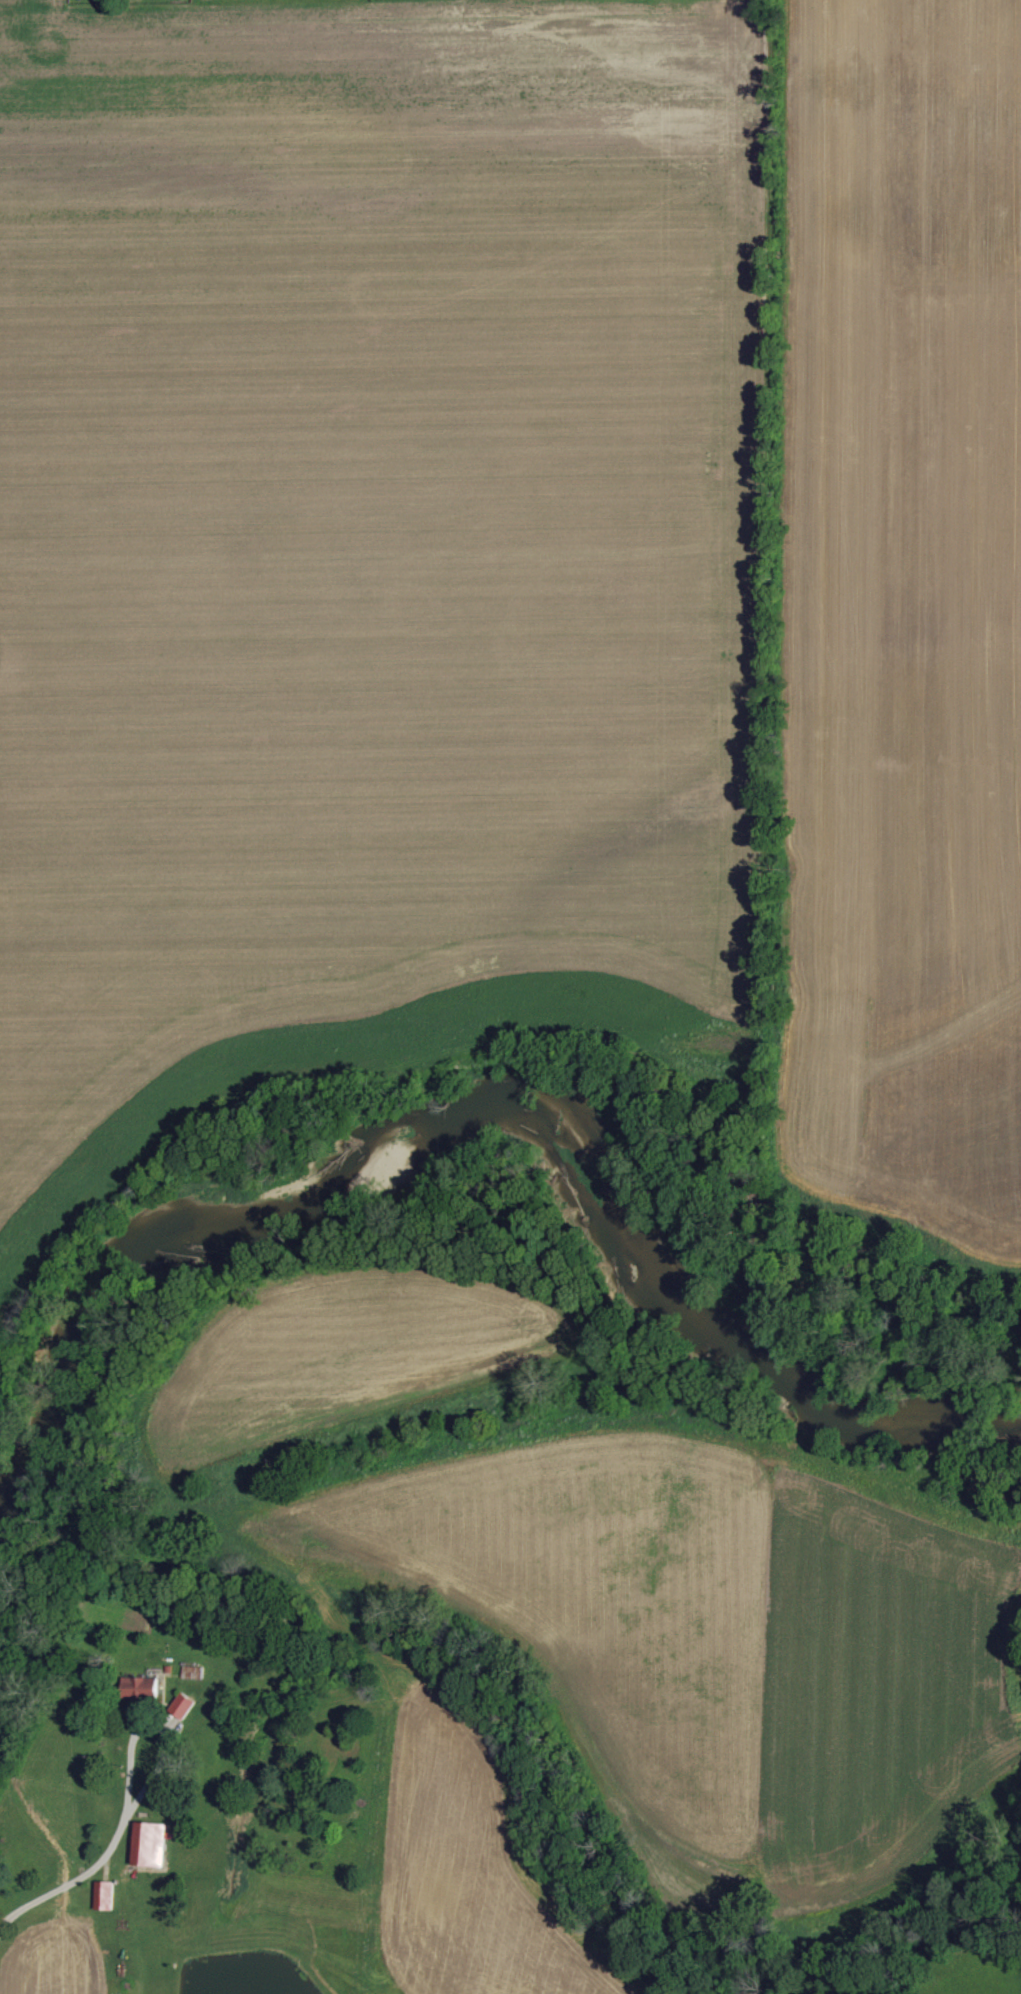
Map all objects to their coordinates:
river: (474, 1121)
building: (184, 1706)
road: (155, 1726)
building: (152, 1843)
road: (74, 1879)
building: (105, 1895)

